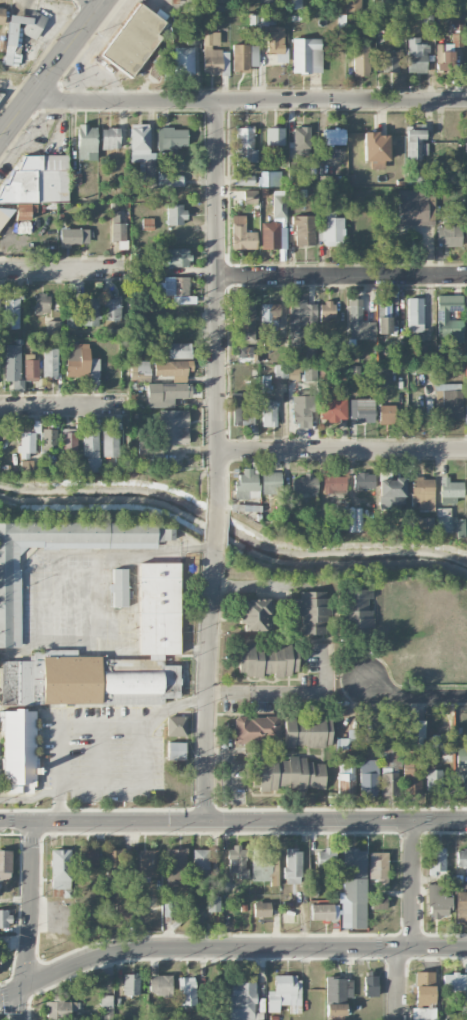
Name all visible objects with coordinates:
building: (352, 4)
building: (2, 15)
building: (354, 20)
building: (340, 22)
building: (20, 35)
building: (191, 35)
building: (133, 39)
building: (275, 39)
building: (213, 55)
building: (306, 55)
building: (416, 55)
building: (243, 57)
building: (360, 60)
building: (183, 61)
building: (389, 61)
road: (53, 70)
road: (248, 102)
building: (274, 136)
building: (334, 136)
building: (110, 138)
building: (171, 139)
building: (465, 139)
building: (86, 141)
building: (301, 141)
building: (415, 144)
building: (244, 145)
building: (375, 149)
building: (142, 154)
building: (269, 178)
building: (244, 179)
building: (170, 180)
building: (35, 185)
building: (249, 196)
building: (279, 206)
building: (412, 207)
building: (175, 214)
building: (147, 224)
building: (117, 227)
building: (332, 229)
building: (303, 230)
building: (449, 232)
building: (466, 233)
building: (241, 234)
building: (270, 235)
building: (73, 236)
building: (175, 257)
road: (55, 270)
road: (342, 276)
building: (171, 286)
building: (41, 303)
road: (217, 303)
building: (111, 308)
building: (384, 309)
building: (326, 310)
building: (11, 312)
building: (85, 314)
building: (415, 314)
building: (442, 315)
building: (466, 315)
building: (269, 316)
building: (245, 320)
building: (301, 320)
building: (359, 321)
building: (384, 325)
building: (53, 327)
building: (179, 350)
building: (245, 352)
building: (81, 361)
building: (12, 362)
building: (50, 363)
building: (466, 366)
building: (30, 367)
building: (173, 367)
building: (139, 371)
building: (168, 391)
building: (449, 400)
road: (63, 406)
building: (241, 408)
building: (333, 409)
building: (303, 410)
building: (362, 410)
building: (269, 412)
building: (386, 412)
building: (465, 413)
building: (174, 427)
building: (48, 439)
building: (68, 439)
building: (26, 442)
building: (109, 443)
building: (148, 447)
building: (90, 451)
road: (342, 451)
building: (364, 480)
building: (272, 482)
building: (246, 484)
building: (304, 484)
building: (334, 484)
building: (391, 490)
building: (450, 490)
building: (422, 493)
building: (466, 496)
building: (449, 523)
road: (215, 525)
road: (123, 554)
building: (119, 587)
building: (9, 598)
building: (358, 611)
building: (312, 612)
building: (255, 614)
building: (110, 657)
building: (267, 659)
road: (205, 683)
road: (284, 693)
road: (413, 696)
road: (88, 721)
building: (176, 726)
building: (414, 729)
building: (256, 730)
building: (308, 730)
building: (442, 743)
building: (390, 749)
building: (176, 750)
building: (17, 751)
building: (461, 756)
building: (411, 773)
building: (288, 774)
building: (367, 777)
building: (346, 778)
building: (432, 780)
building: (463, 781)
building: (389, 783)
road: (131, 785)
road: (233, 820)
building: (87, 858)
building: (325, 859)
building: (461, 859)
building: (237, 861)
building: (436, 861)
building: (200, 862)
building: (115, 863)
building: (147, 863)
building: (5, 865)
building: (260, 865)
building: (176, 866)
building: (292, 866)
building: (378, 868)
building: (60, 870)
road: (413, 884)
building: (355, 888)
building: (139, 901)
building: (378, 902)
building: (437, 902)
building: (213, 903)
road: (32, 904)
building: (461, 906)
building: (170, 908)
building: (261, 909)
building: (122, 911)
building: (322, 912)
building: (4, 918)
road: (228, 949)
building: (453, 981)
building: (370, 983)
road: (401, 984)
building: (160, 985)
building: (131, 986)
building: (187, 991)
building: (285, 993)
building: (337, 995)
building: (423, 996)
building: (243, 1002)
road: (22, 1005)
building: (107, 1006)
building: (60, 1009)

